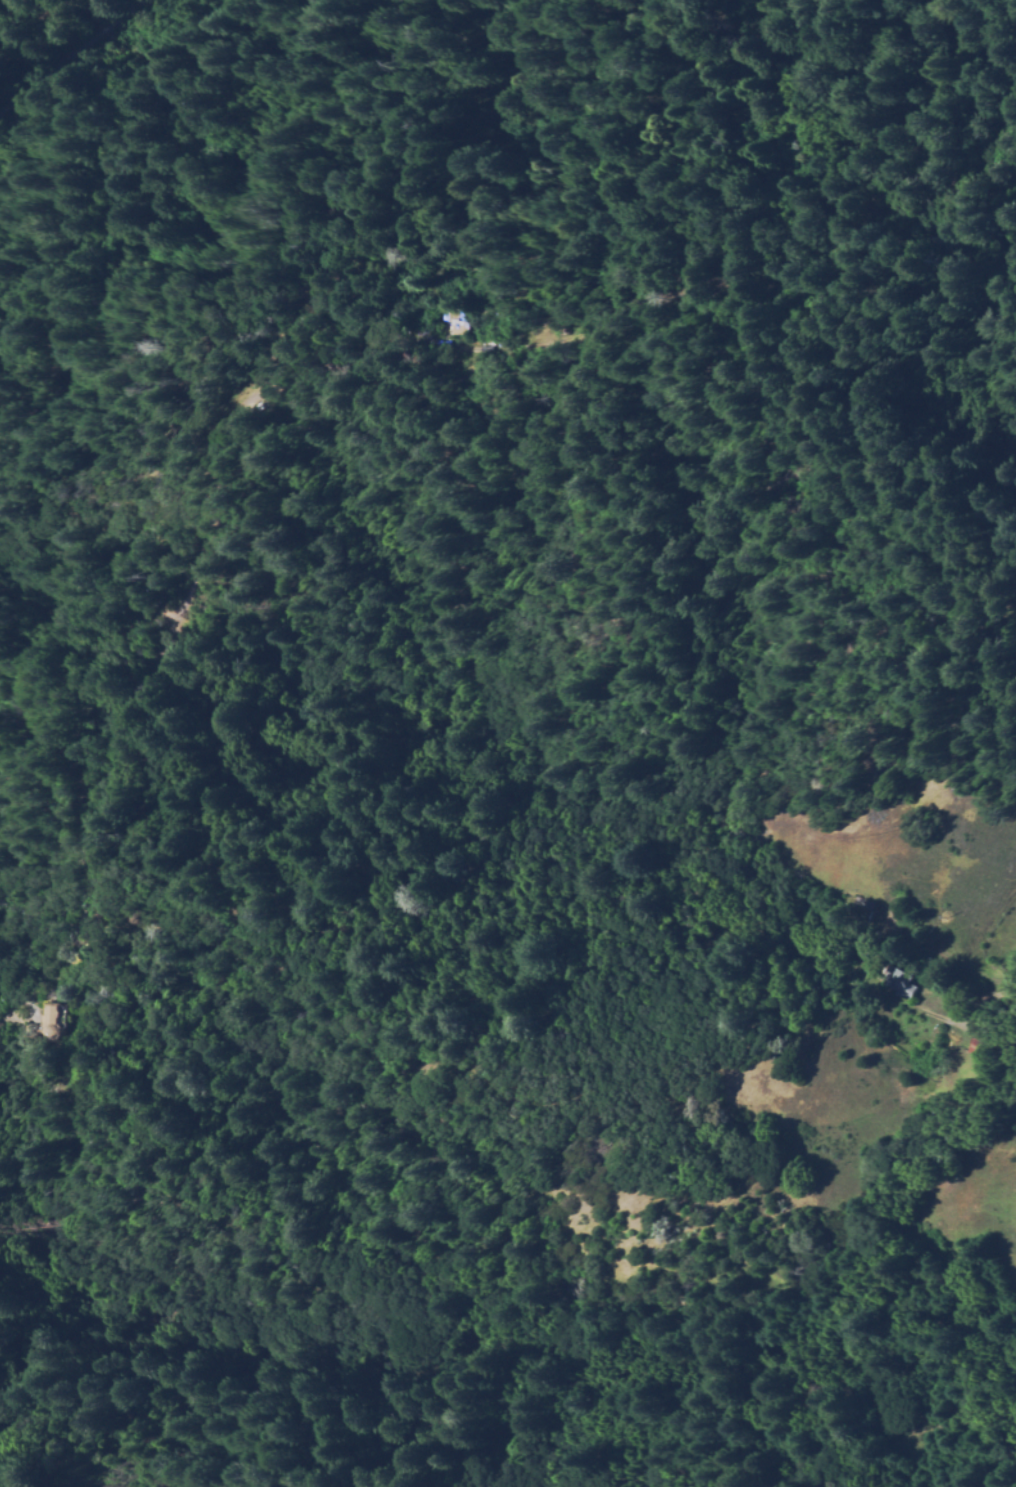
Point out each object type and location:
building: (863, 911)
building: (899, 989)
building: (47, 1026)
building: (984, 1044)

